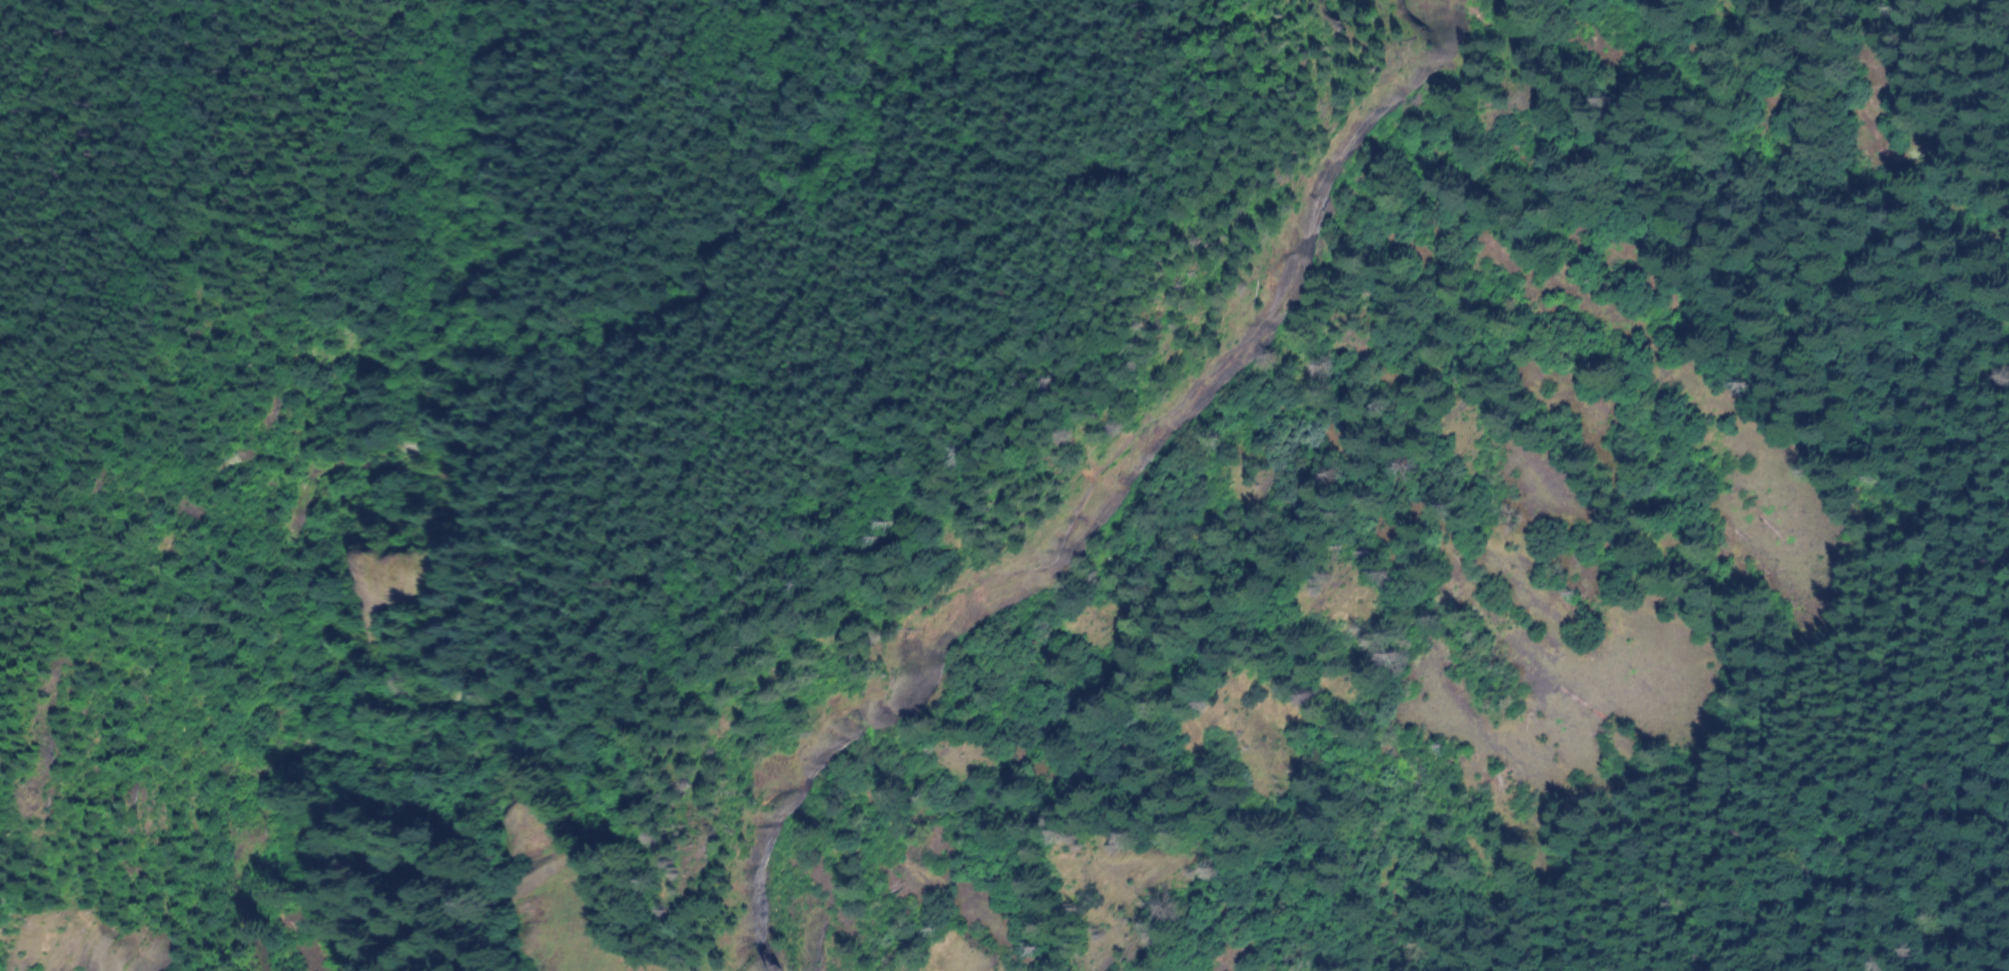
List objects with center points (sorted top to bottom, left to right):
road: (885, 487)

